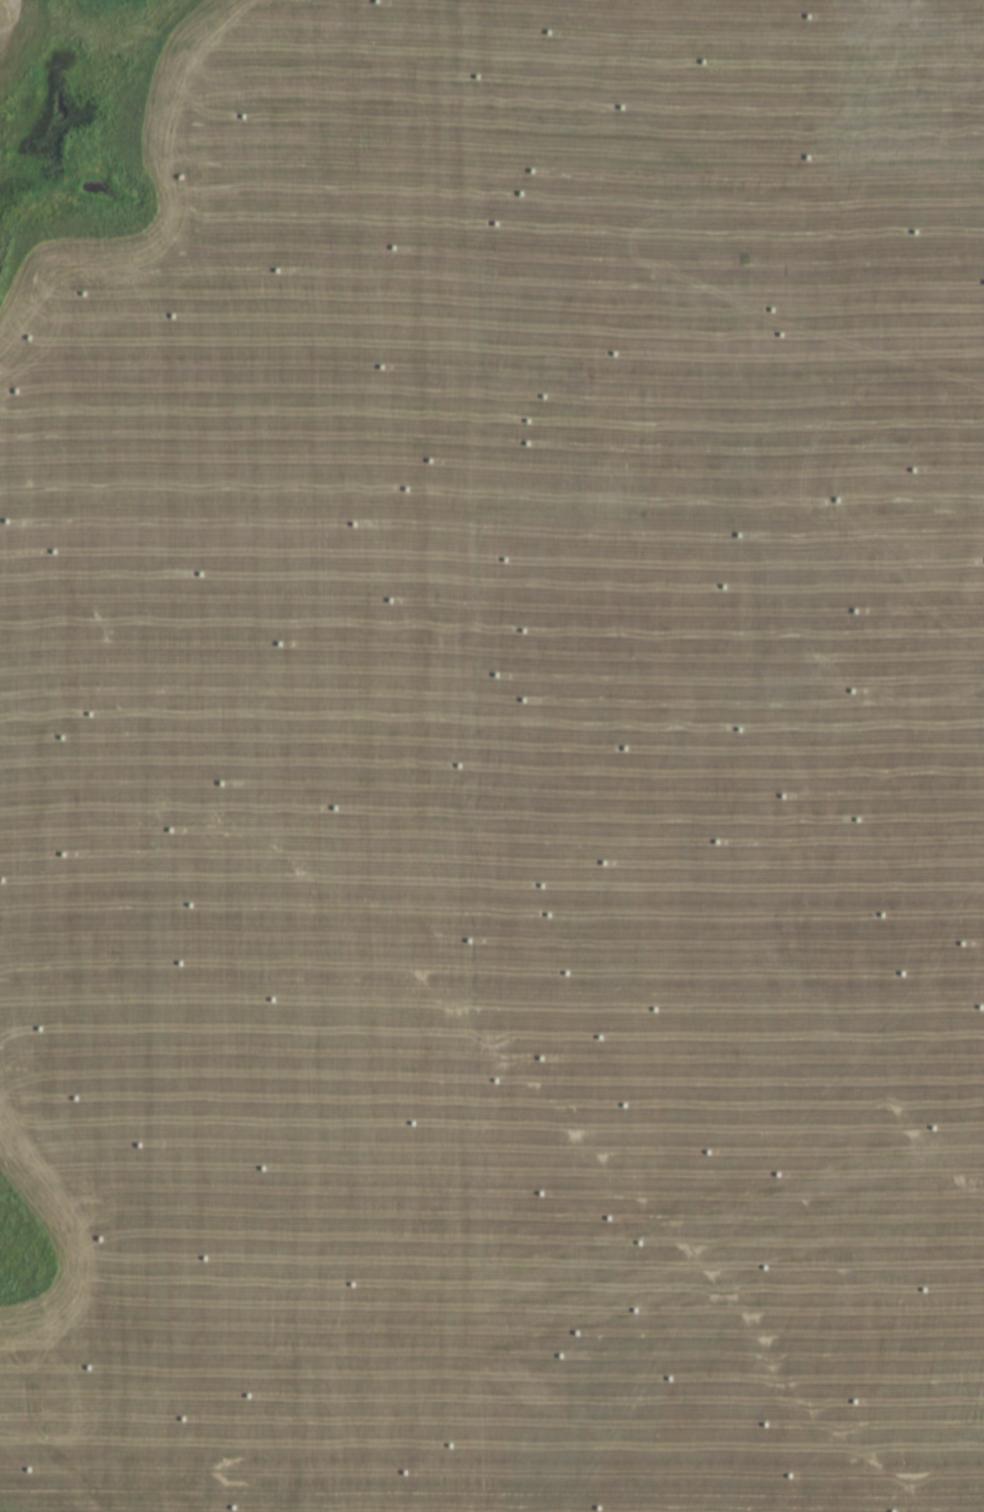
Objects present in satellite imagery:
quarry: (501, 733)
road: (192, 1464)

